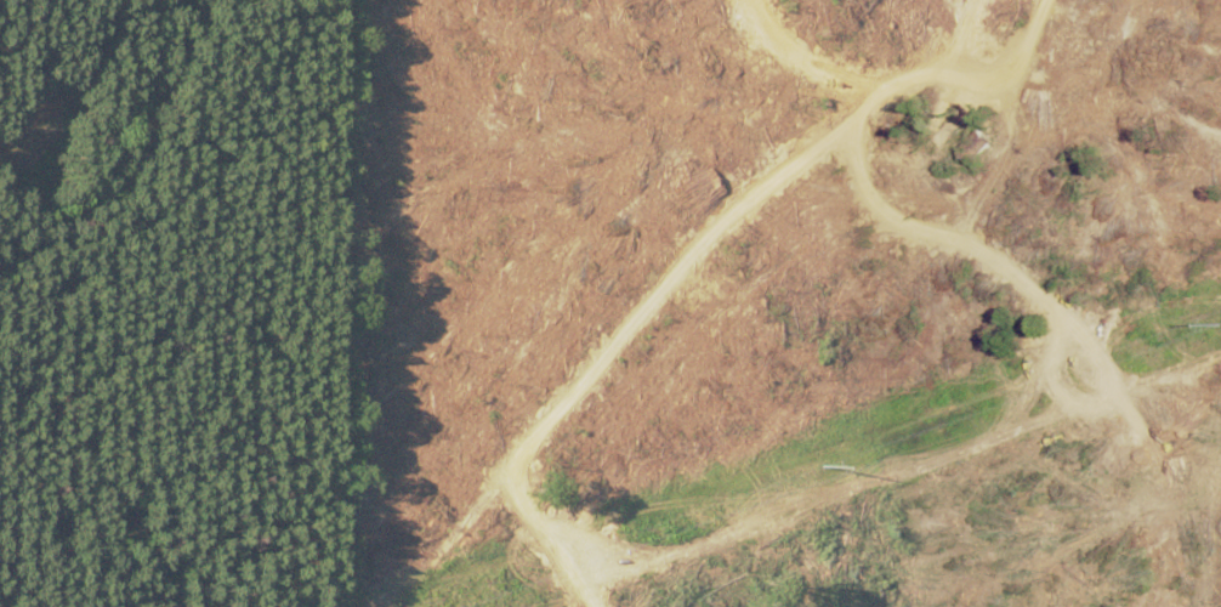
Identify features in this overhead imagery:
power tower: (1220, 324)
power tower: (820, 464)

